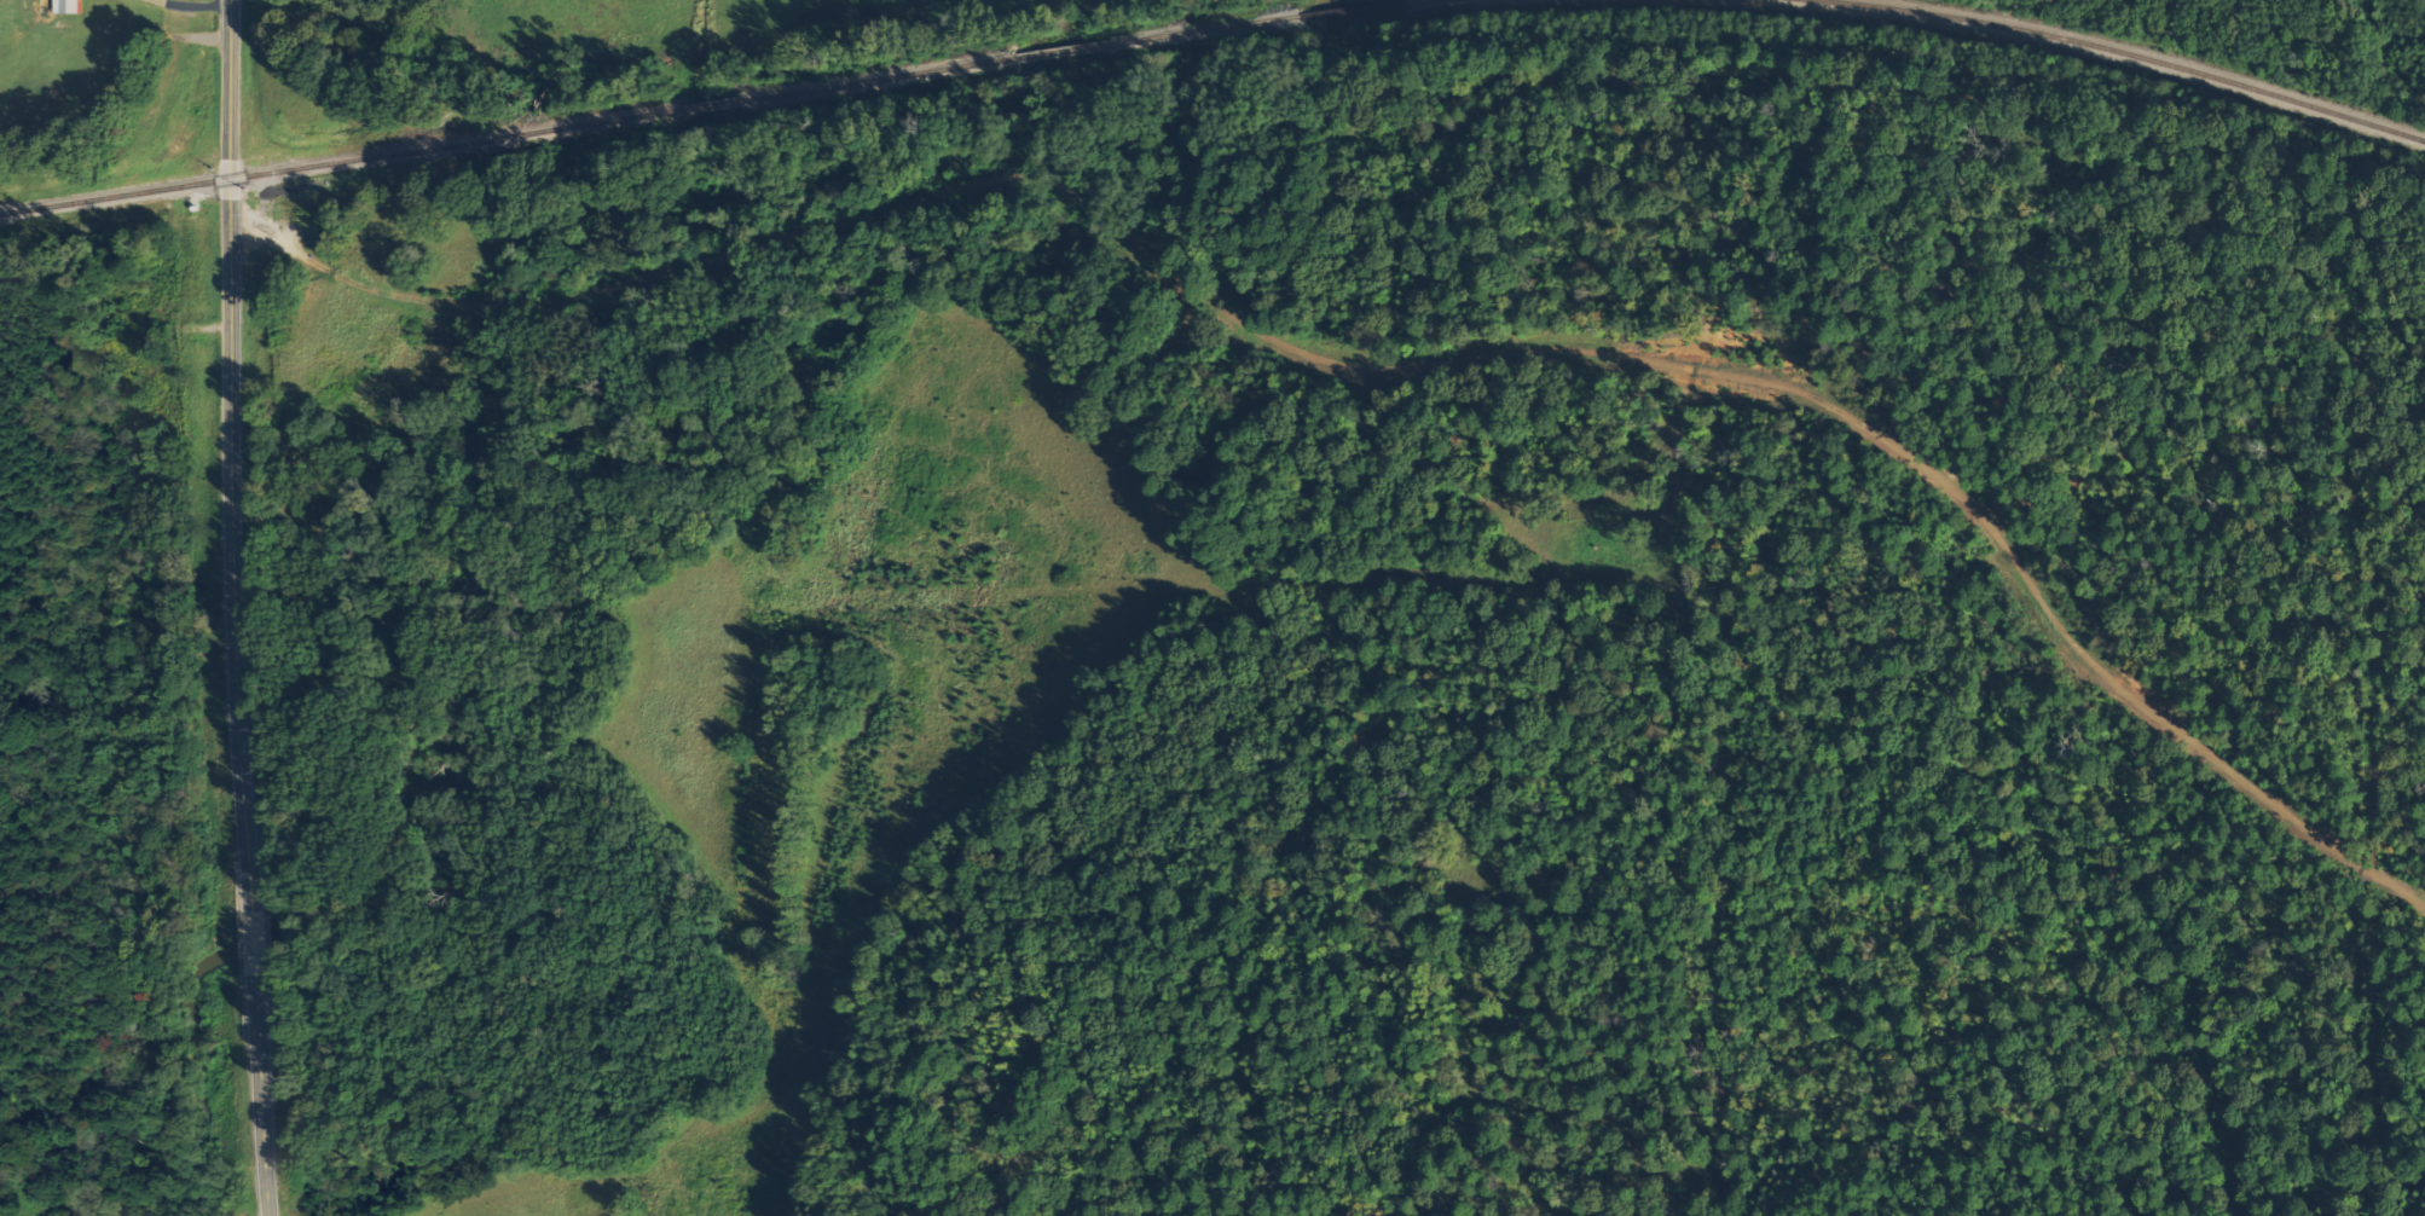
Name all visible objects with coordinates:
railway: (1428, 2)
building: (69, 6)
road: (192, 6)
railway: (1345, 10)
railway: (2114, 53)
railway: (1014, 58)
railway: (706, 104)
railway: (338, 161)
road: (235, 461)
road: (247, 950)
road: (257, 1098)

